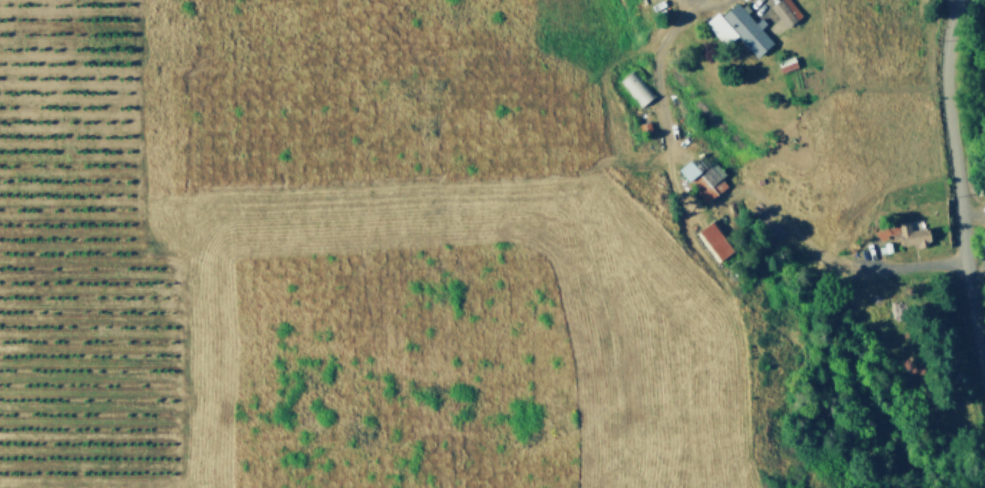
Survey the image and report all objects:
building: (786, 8)
building: (719, 25)
building: (747, 26)
building: (786, 60)
building: (635, 84)
building: (643, 123)
road: (670, 147)
road: (958, 173)
building: (702, 176)
road: (784, 214)
building: (904, 229)
building: (714, 237)
building: (889, 244)
building: (735, 257)
road: (916, 260)
road: (713, 287)

